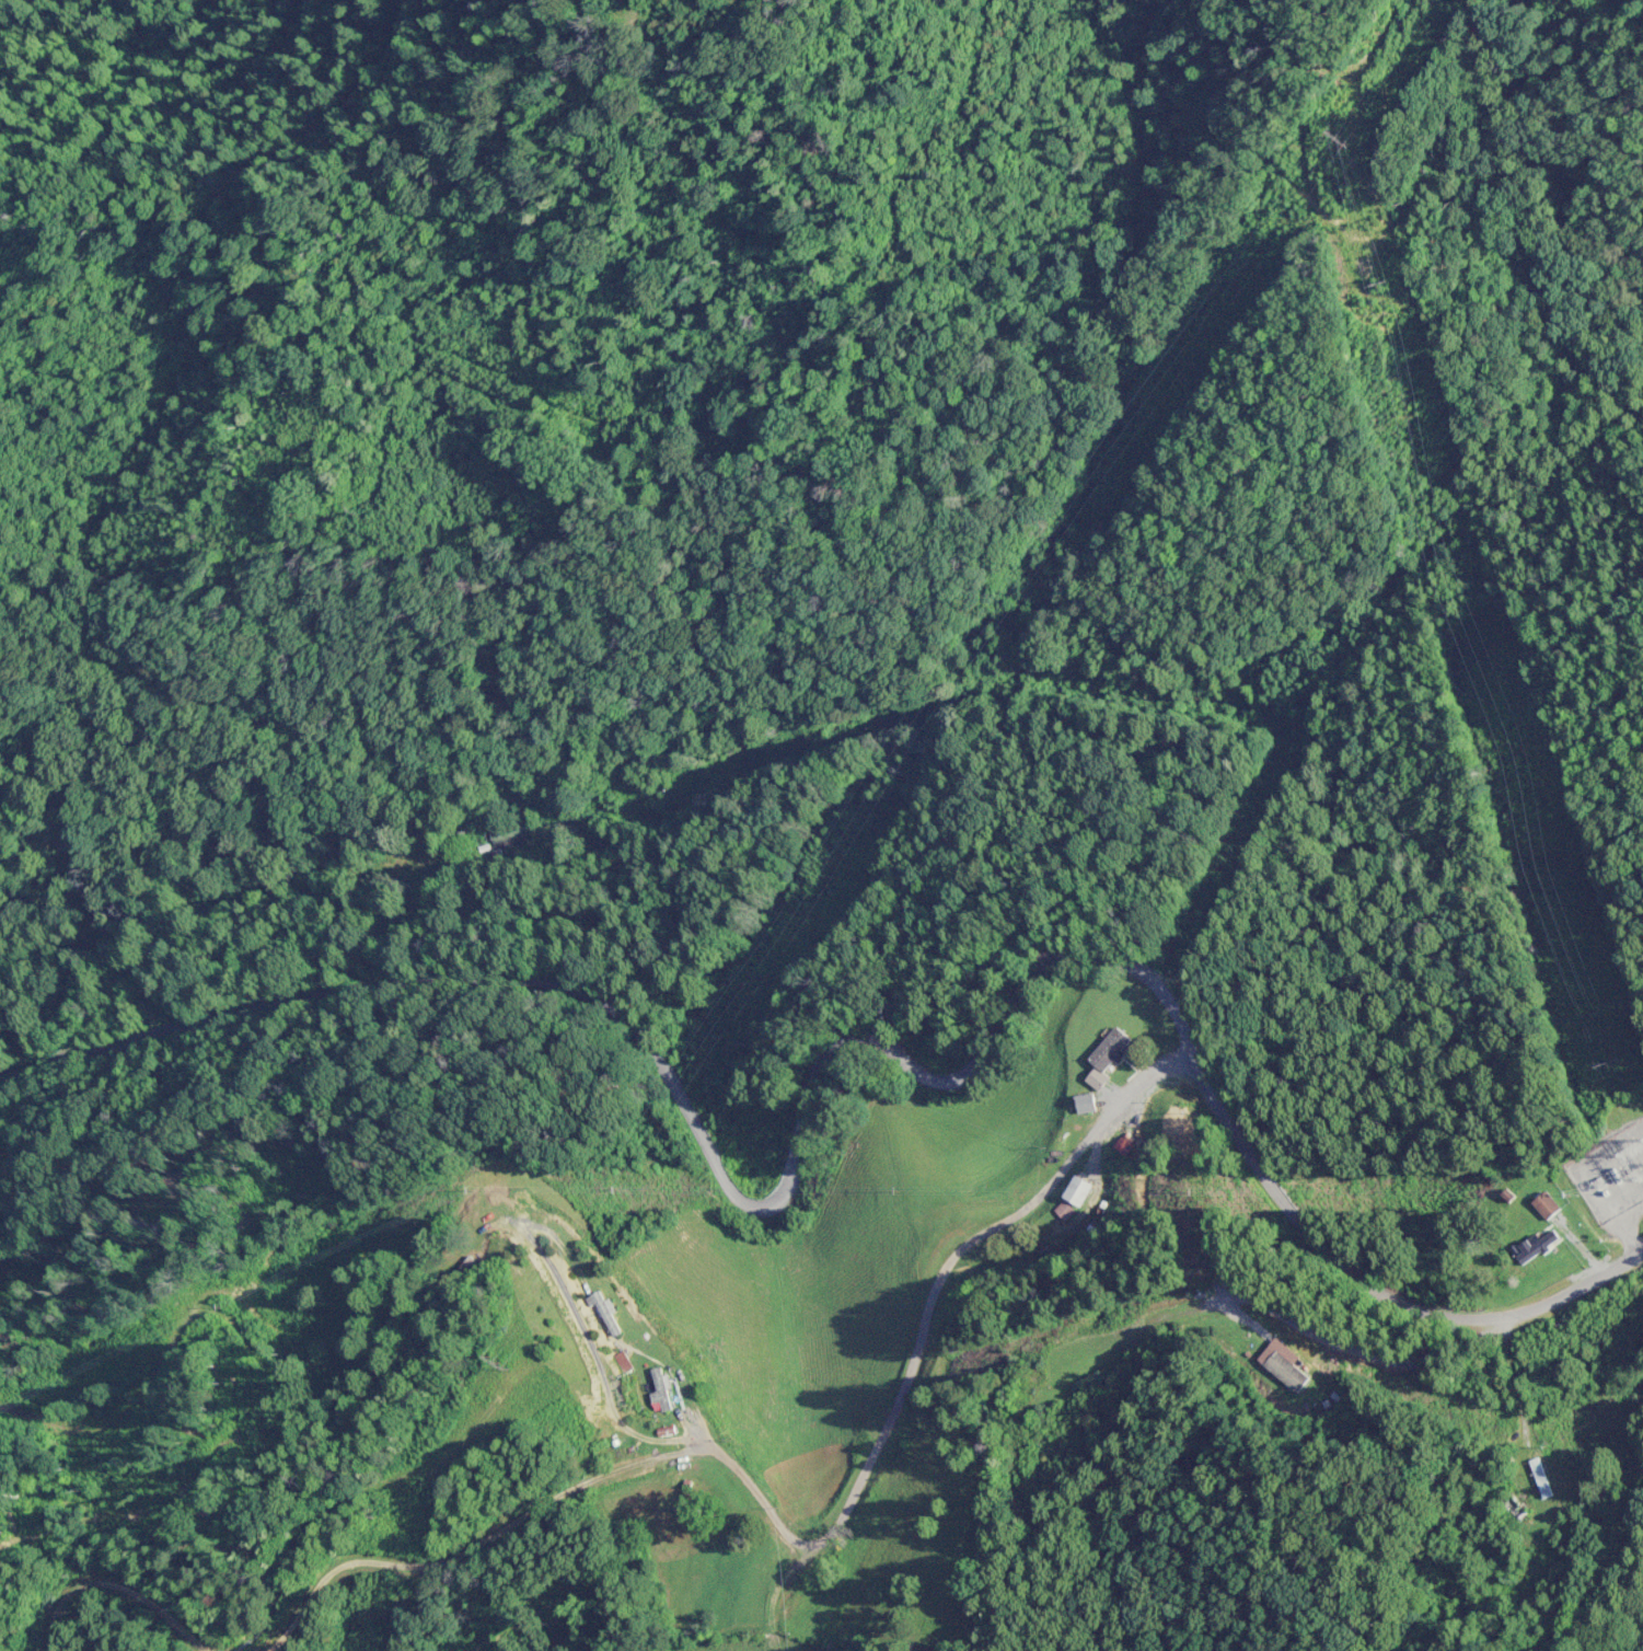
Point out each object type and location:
road: (976, 493)
road: (1138, 695)
road: (873, 1079)
building: (1087, 1105)
building: (1547, 1205)
road: (1261, 1242)
building: (1539, 1248)
road: (1293, 1298)
building: (606, 1315)
road: (930, 1319)
building: (1287, 1373)
building: (661, 1393)
building: (1541, 1479)
building: (1516, 1506)

